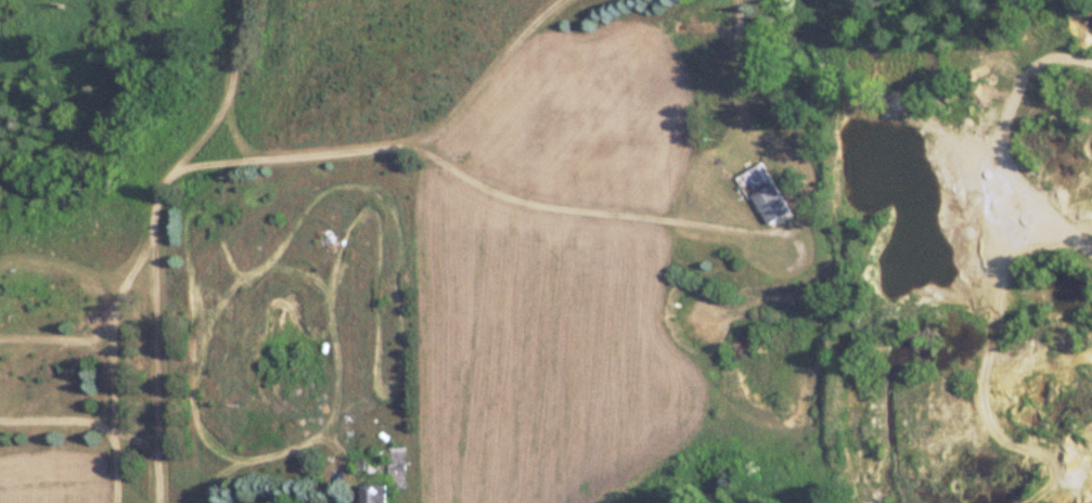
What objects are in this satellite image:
road: (508, 76)
crop: (492, 89)
building: (761, 192)
road: (562, 204)
road: (171, 238)
crop: (547, 349)
road: (108, 422)
crop: (61, 482)
building: (372, 494)

